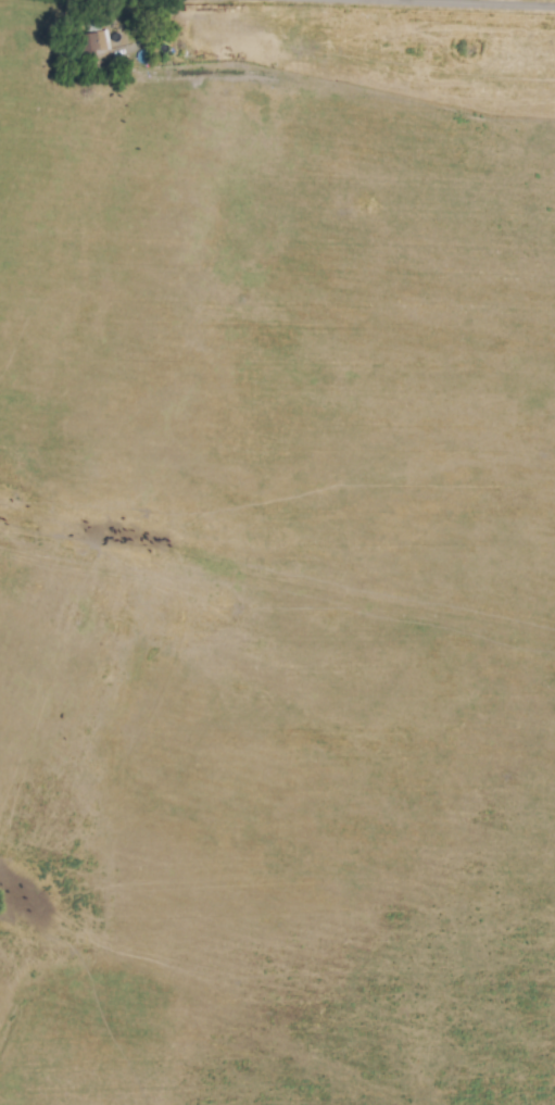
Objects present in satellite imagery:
road: (475, 3)
building: (96, 41)
crop: (277, 552)

